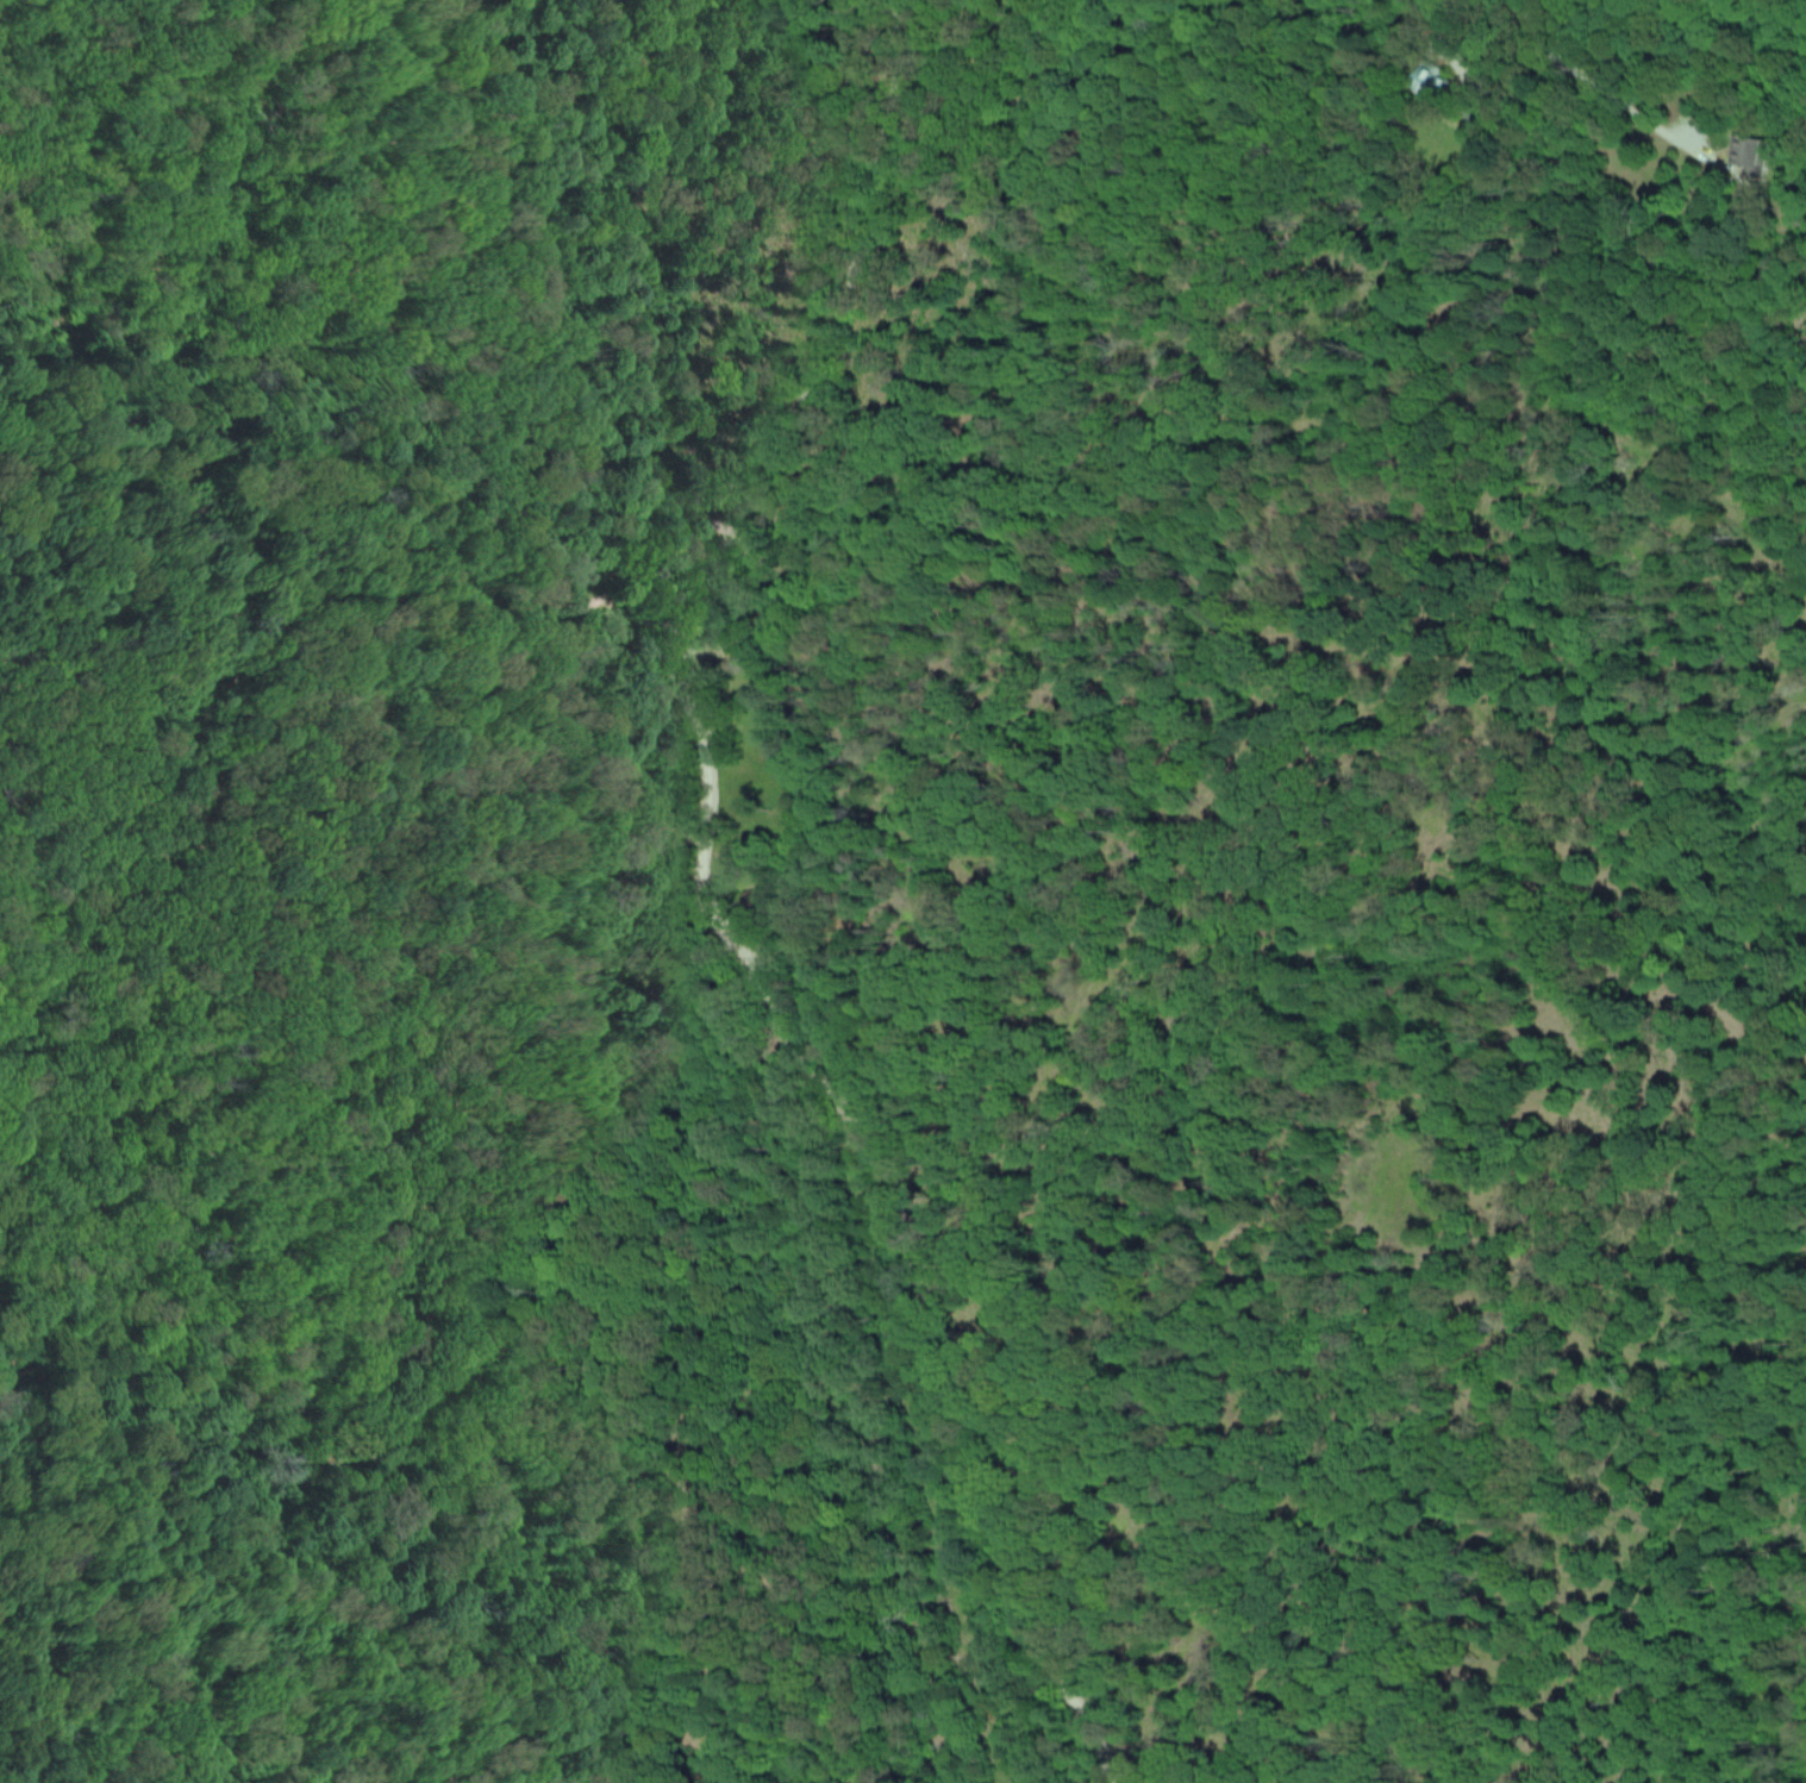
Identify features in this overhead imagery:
building: (1430, 76)
road: (1605, 86)
building: (1744, 152)
road: (1239, 626)
road: (711, 911)
road: (162, 1597)

